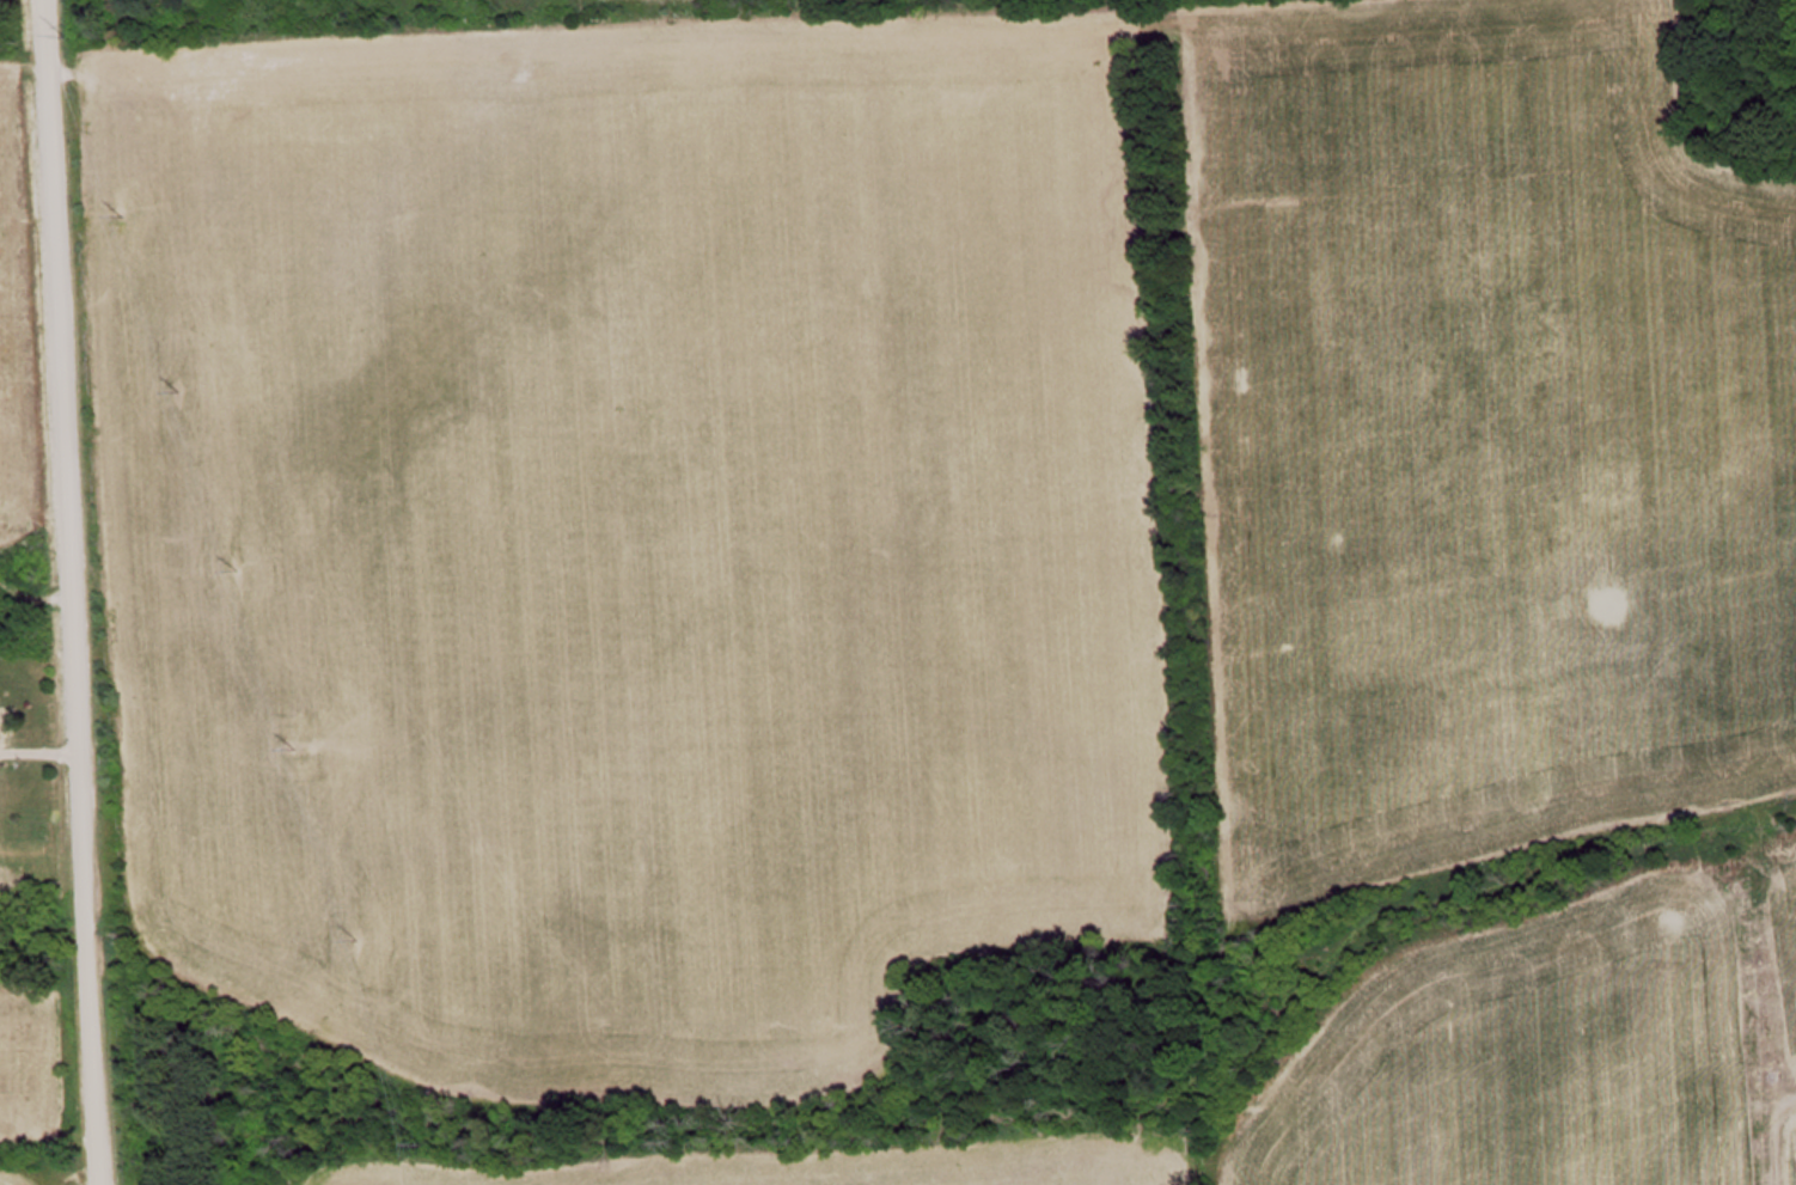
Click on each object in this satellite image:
road: (67, 592)
building: (0, 707)
road: (1777, 1153)

